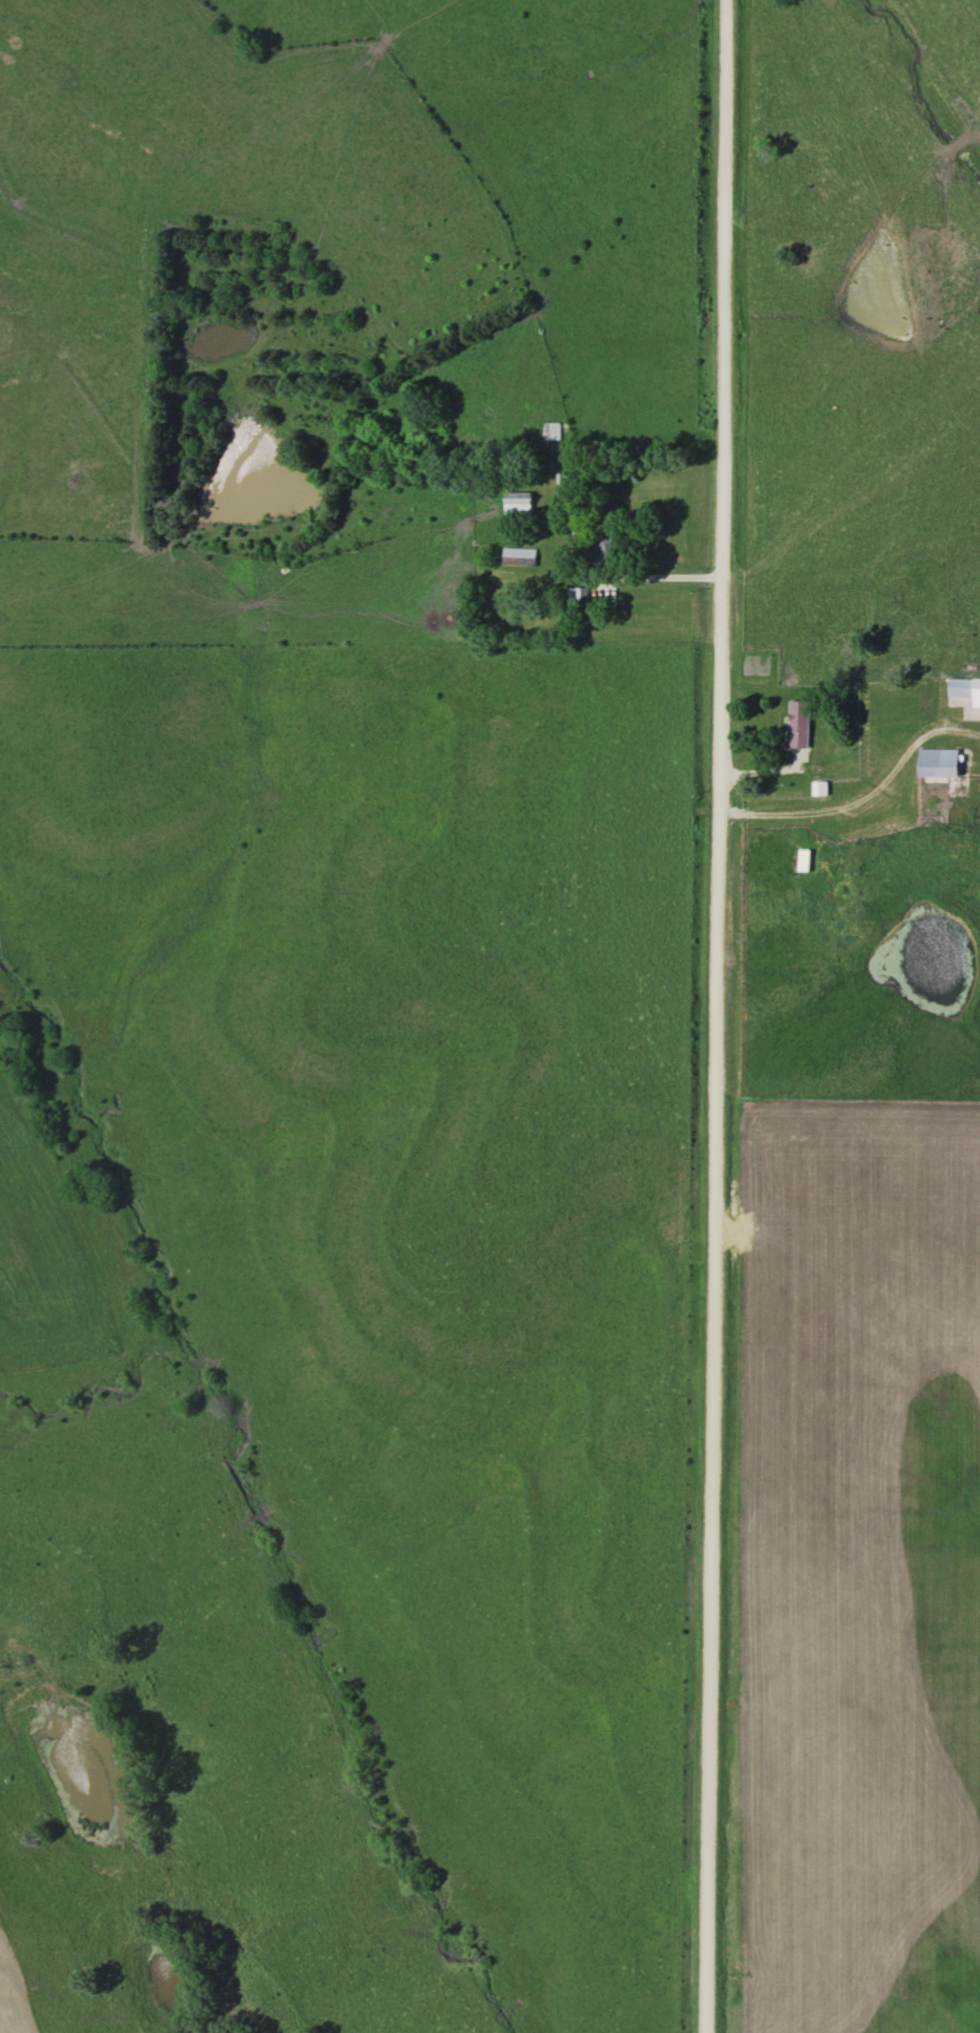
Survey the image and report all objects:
building: (548, 431)
building: (513, 503)
building: (600, 550)
building: (515, 556)
road: (663, 578)
building: (574, 599)
building: (963, 690)
building: (794, 725)
building: (933, 764)
road: (821, 768)
building: (815, 789)
building: (821, 839)
road: (717, 1016)

